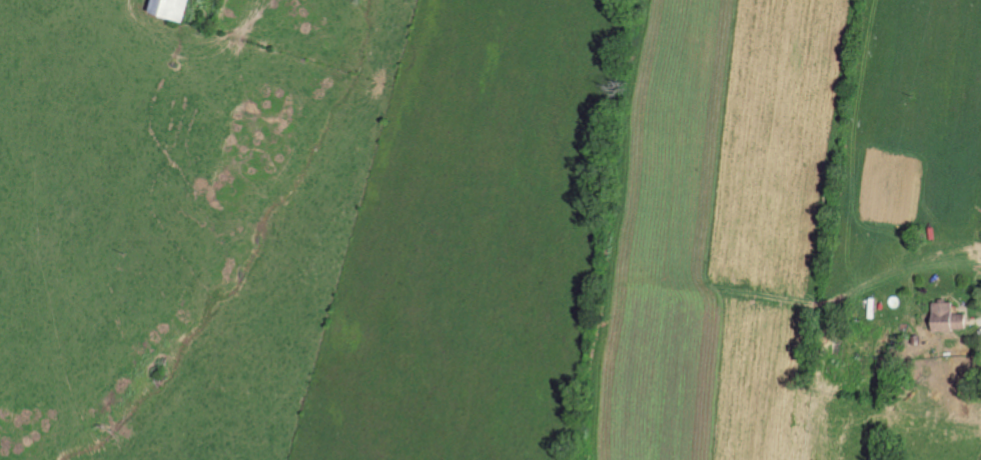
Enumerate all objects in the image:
building: (172, 8)
building: (948, 317)

